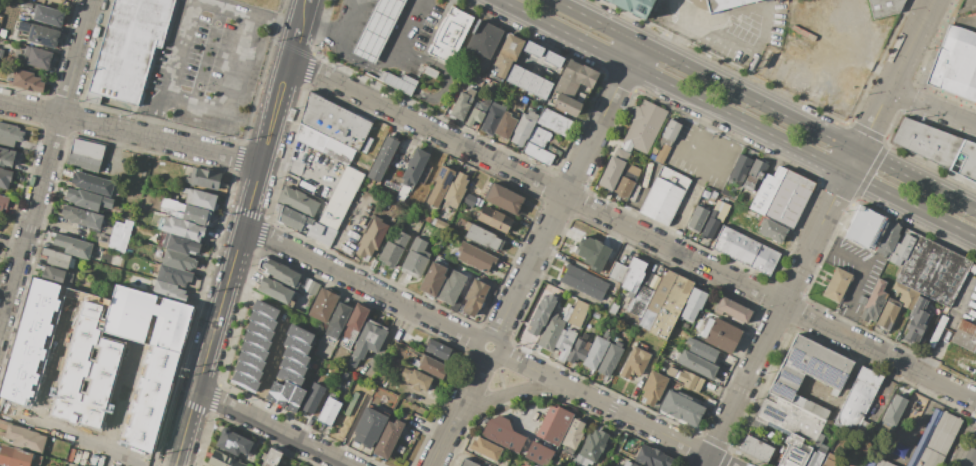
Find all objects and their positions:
building: (59, 1)
road: (306, 4)
road: (395, 4)
building: (726, 4)
building: (635, 6)
building: (885, 7)
road: (408, 11)
road: (363, 12)
building: (49, 15)
road: (246, 16)
road: (352, 17)
road: (301, 20)
road: (382, 20)
road: (949, 20)
road: (765, 25)
building: (22, 27)
road: (321, 27)
road: (405, 27)
road: (399, 28)
road: (686, 28)
building: (377, 29)
road: (322, 30)
building: (450, 33)
building: (44, 36)
road: (351, 36)
building: (483, 40)
road: (370, 44)
road: (343, 45)
road: (294, 46)
building: (129, 47)
building: (532, 47)
road: (179, 48)
road: (633, 53)
building: (552, 56)
road: (208, 57)
road: (364, 57)
road: (405, 57)
building: (505, 57)
building: (39, 58)
road: (384, 60)
building: (954, 62)
parking lot: (207, 65)
road: (241, 66)
road: (308, 71)
building: (430, 72)
road: (895, 76)
building: (26, 80)
building: (398, 81)
building: (529, 81)
building: (571, 87)
road: (406, 88)
building: (464, 103)
road: (759, 103)
road: (196, 105)
road: (932, 109)
road: (727, 113)
building: (476, 115)
road: (156, 117)
building: (491, 120)
building: (334, 122)
building: (554, 122)
building: (506, 125)
building: (644, 126)
road: (180, 128)
building: (523, 130)
building: (11, 132)
road: (130, 133)
building: (666, 141)
building: (926, 142)
building: (325, 144)
building: (541, 147)
road: (113, 151)
building: (85, 155)
parking lot: (702, 156)
building: (7, 157)
building: (382, 158)
road: (702, 158)
road: (852, 161)
building: (965, 161)
road: (297, 165)
building: (414, 167)
road: (48, 170)
building: (740, 170)
building: (612, 173)
building: (755, 175)
building: (5, 177)
building: (203, 180)
building: (626, 180)
building: (92, 184)
building: (438, 187)
building: (455, 190)
road: (638, 195)
building: (665, 196)
building: (782, 197)
building: (341, 198)
building: (470, 198)
building: (198, 199)
building: (503, 199)
road: (561, 200)
building: (87, 201)
building: (298, 201)
building: (3, 202)
road: (686, 204)
road: (971, 208)
building: (186, 212)
building: (81, 217)
building: (717, 217)
building: (698, 218)
building: (294, 219)
building: (428, 219)
building: (494, 219)
building: (439, 224)
building: (865, 227)
building: (184, 229)
building: (772, 230)
road: (346, 231)
road: (632, 231)
road: (965, 231)
building: (322, 234)
building: (118, 235)
building: (372, 237)
building: (484, 238)
building: (888, 239)
building: (178, 243)
building: (73, 246)
road: (13, 247)
building: (394, 247)
building: (745, 250)
building: (901, 251)
building: (592, 253)
building: (55, 258)
building: (416, 258)
building: (476, 258)
building: (179, 261)
road: (233, 263)
building: (973, 269)
building: (933, 270)
building: (628, 273)
parking lot: (855, 274)
road: (862, 274)
building: (174, 275)
building: (57, 276)
building: (288, 276)
building: (434, 278)
building: (585, 281)
road: (361, 283)
building: (836, 285)
building: (451, 286)
road: (7, 289)
building: (275, 290)
building: (644, 290)
building: (167, 292)
building: (474, 297)
building: (875, 302)
building: (665, 304)
building: (896, 304)
building: (323, 305)
building: (693, 305)
building: (613, 308)
building: (264, 310)
building: (732, 312)
building: (578, 314)
building: (541, 316)
road: (775, 319)
building: (338, 320)
building: (917, 320)
building: (261, 321)
building: (355, 322)
building: (260, 330)
building: (553, 331)
building: (937, 331)
building: (299, 334)
building: (720, 334)
building: (965, 336)
road: (494, 337)
building: (256, 340)
building: (566, 340)
building: (366, 343)
building: (296, 345)
building: (579, 350)
building: (254, 351)
building: (438, 352)
building: (596, 352)
building: (704, 352)
building: (99, 354)
building: (295, 356)
building: (610, 359)
building: (636, 359)
building: (251, 361)
building: (697, 365)
building: (292, 366)
building: (431, 366)
road: (531, 368)
building: (248, 371)
road: (500, 376)
building: (289, 377)
building: (684, 377)
building: (415, 379)
building: (244, 381)
building: (786, 383)
road: (468, 388)
building: (653, 388)
building: (274, 391)
building: (357, 392)
road: (887, 392)
building: (285, 394)
road: (506, 395)
building: (311, 397)
building: (295, 399)
building: (858, 400)
building: (681, 408)
building: (329, 411)
building: (893, 415)
building: (344, 417)
building: (553, 424)
road: (645, 425)
road: (272, 428)
building: (370, 428)
building: (502, 433)
building: (572, 435)
road: (73, 438)
building: (388, 438)
building: (26, 439)
building: (935, 440)
road: (441, 441)
building: (234, 444)
building: (487, 447)
building: (591, 447)
building: (756, 449)
building: (794, 452)
building: (539, 454)
building: (816, 455)
building: (14, 456)
building: (271, 457)
building: (653, 457)
building: (224, 459)
building: (831, 460)
road: (973, 461)
building: (467, 462)
building: (879, 463)
building: (632, 464)
building: (492, 465)
building: (533, 465)

